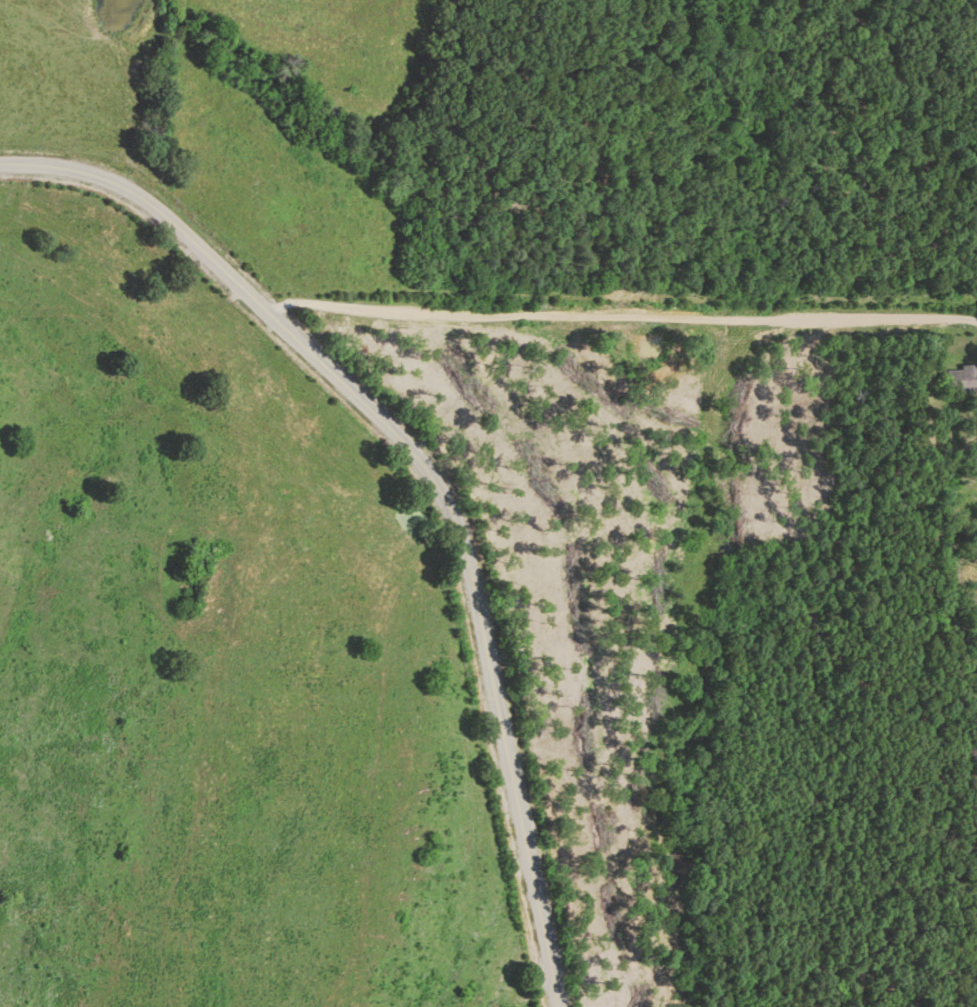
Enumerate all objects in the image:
road: (602, 314)
building: (955, 381)
road: (428, 479)

